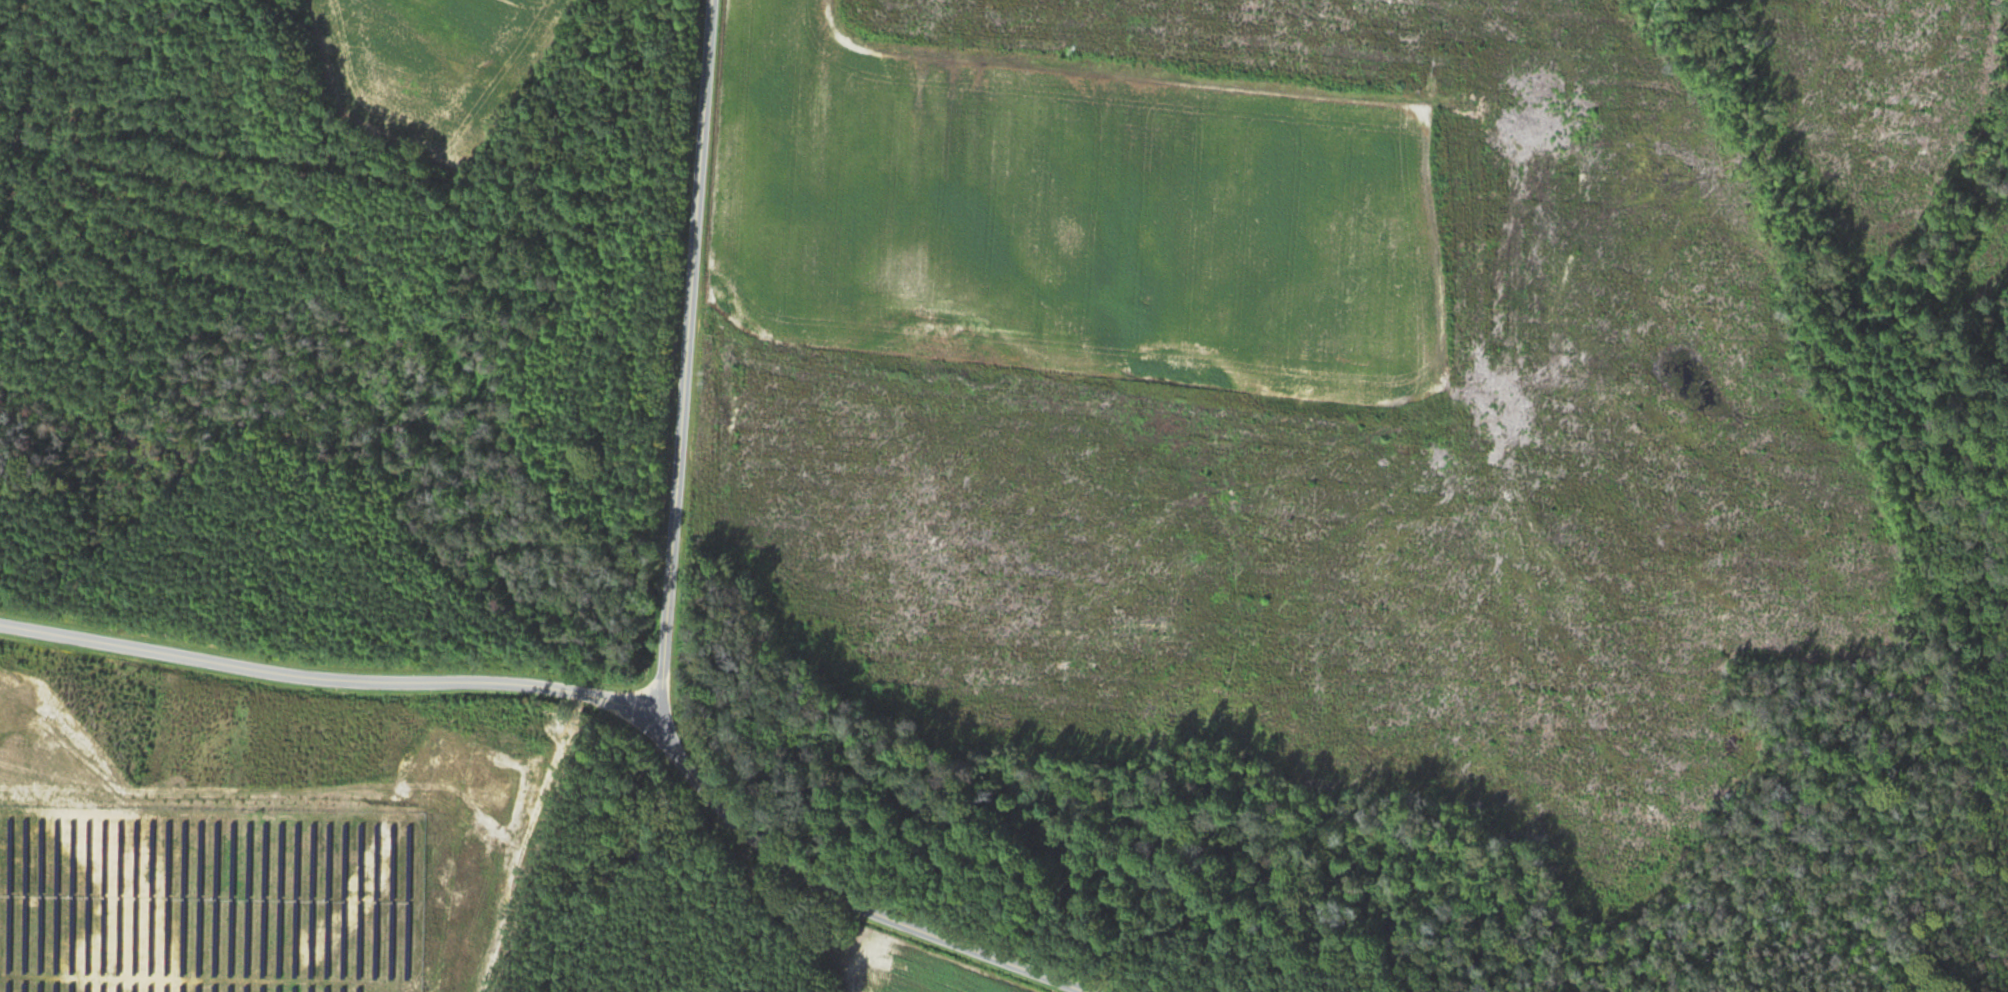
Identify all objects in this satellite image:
road: (688, 352)
road: (328, 677)
road: (836, 896)

